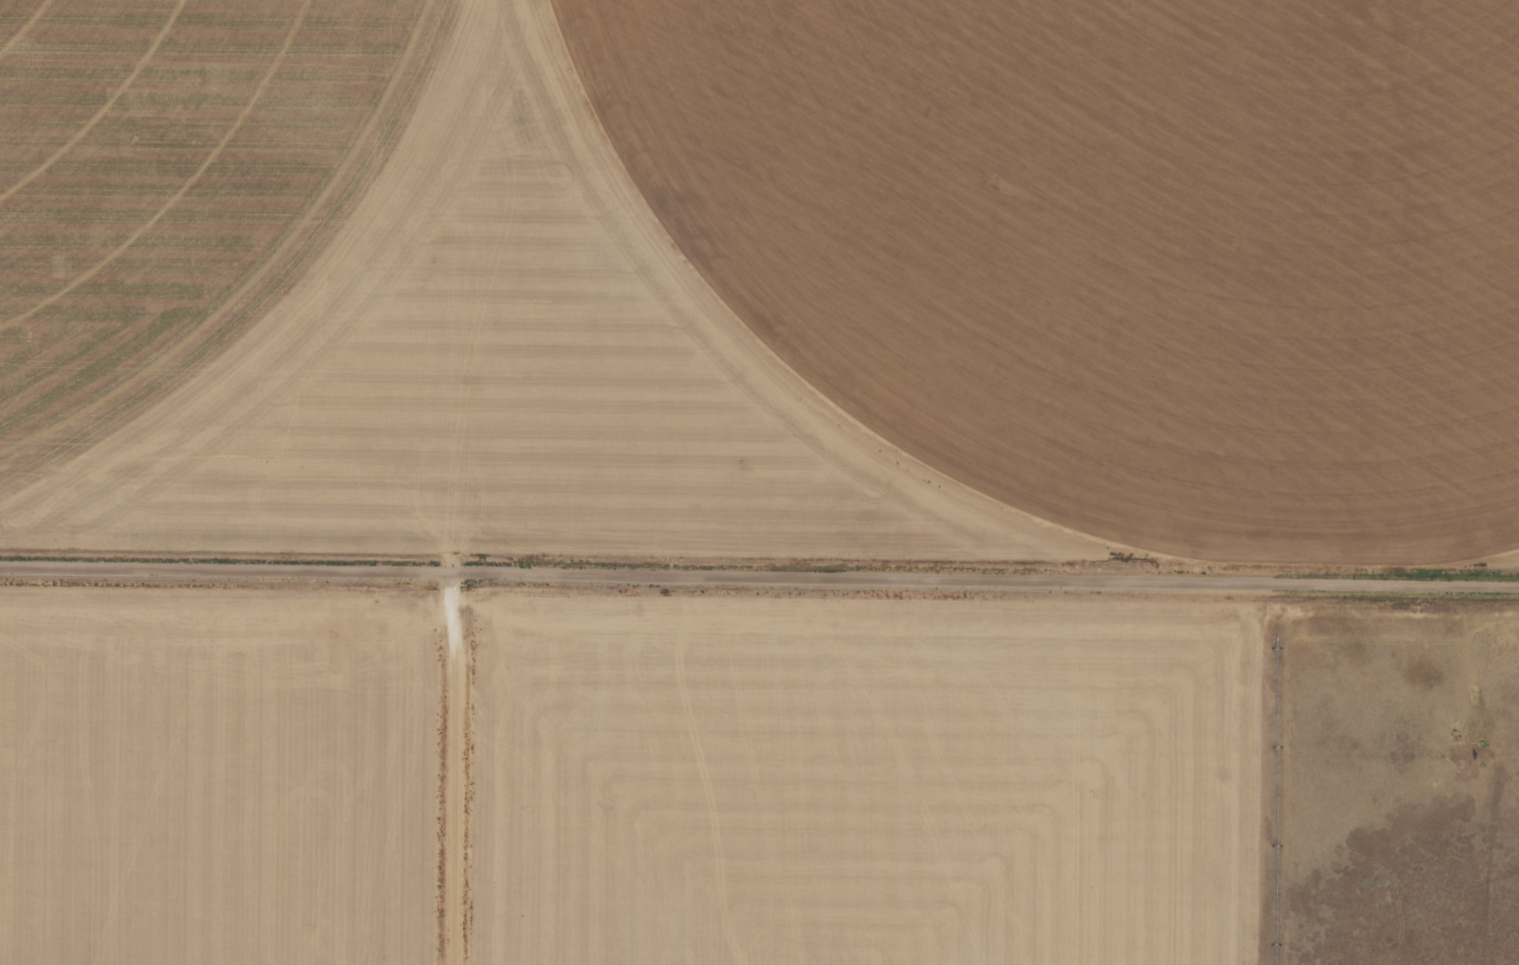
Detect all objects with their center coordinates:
road: (759, 572)
road: (463, 766)

